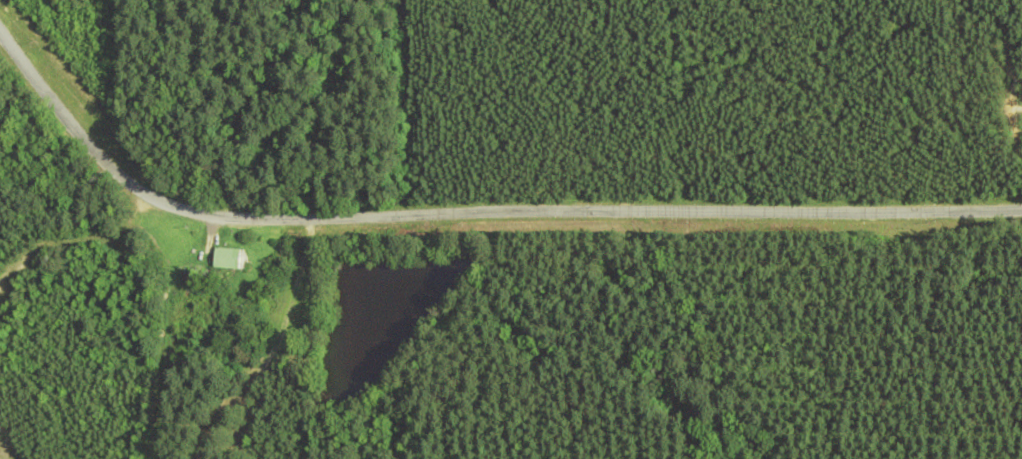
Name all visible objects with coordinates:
road: (471, 213)
road: (72, 242)
building: (224, 259)

